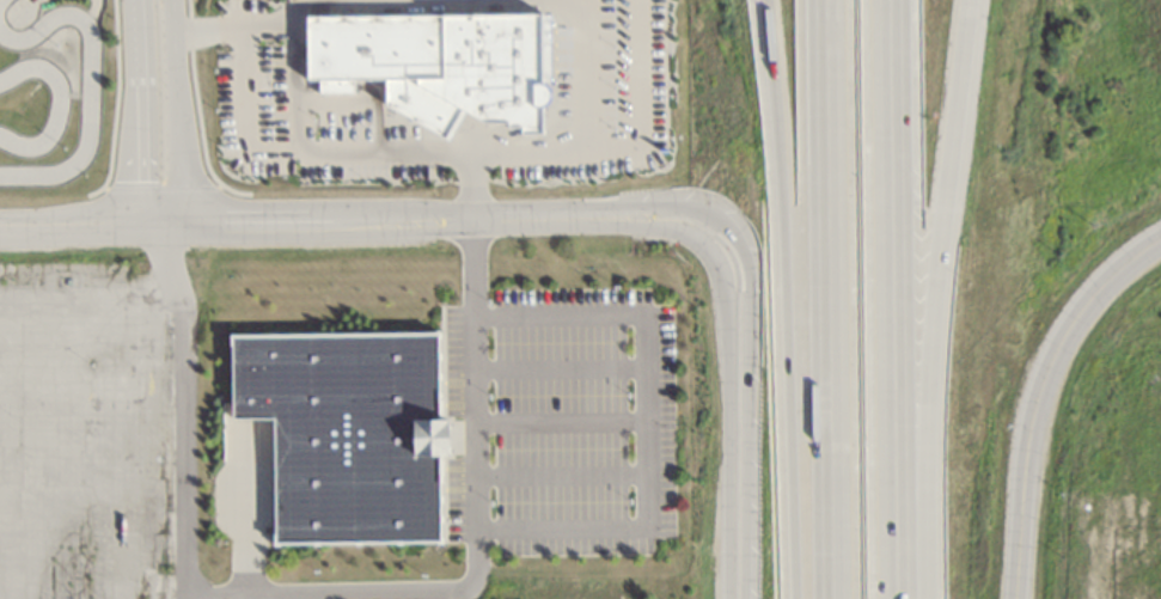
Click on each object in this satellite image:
road: (91, 5)
road: (269, 20)
building: (433, 63)
road: (294, 68)
raceway: (86, 82)
road: (641, 98)
theme park: (57, 99)
raceway: (55, 102)
road: (138, 115)
road: (175, 115)
road: (580, 126)
road: (350, 224)
road: (1123, 271)
road: (788, 299)
road: (827, 299)
road: (884, 299)
road: (931, 299)
road: (560, 368)
road: (739, 402)
road: (642, 420)
road: (560, 421)
parking lot: (570, 423)
building: (343, 432)
road: (1029, 442)
road: (561, 475)
road: (478, 484)

